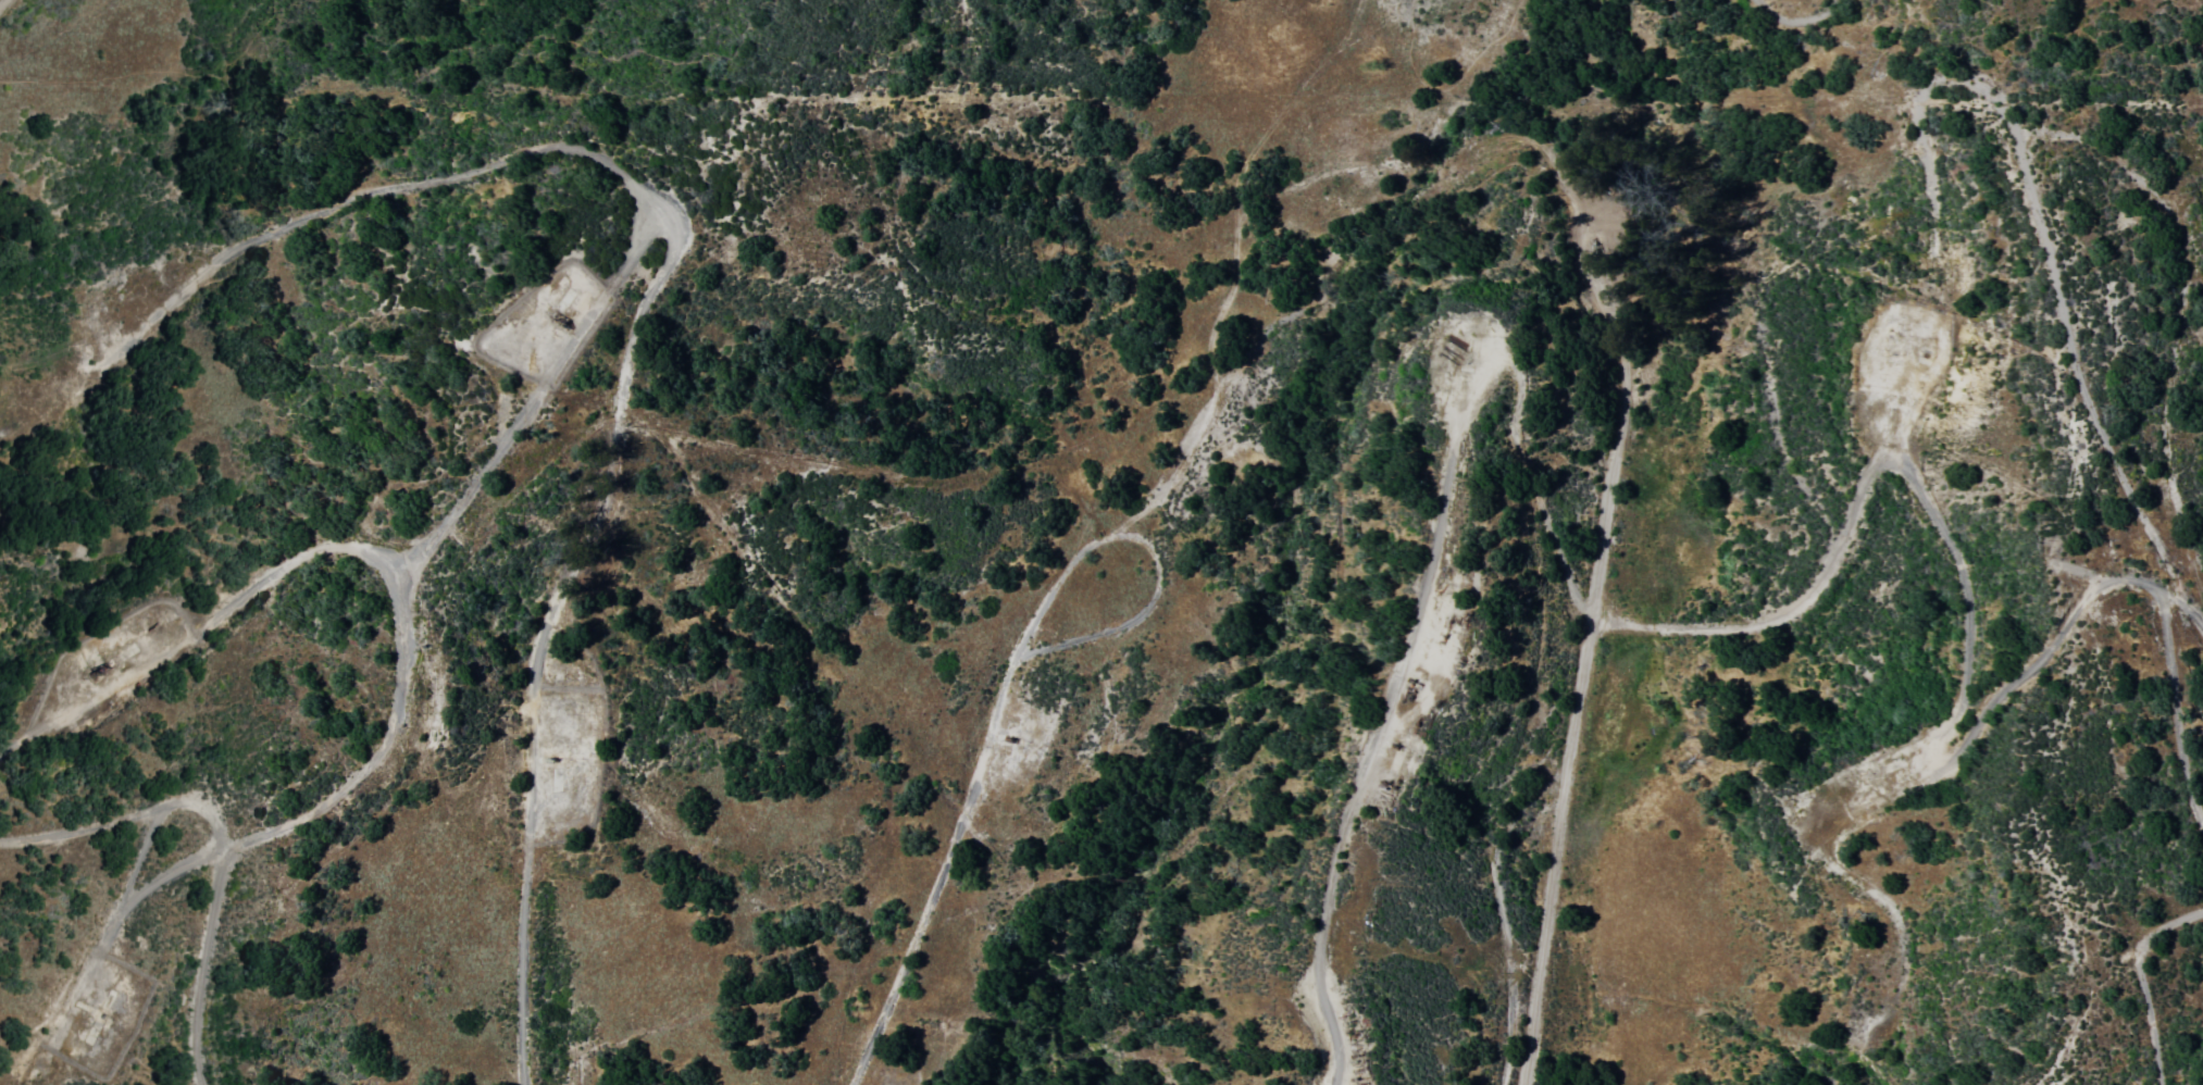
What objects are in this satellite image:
road: (3, 3)
road: (1333, 45)
road: (113, 277)
road: (1496, 354)
road: (549, 375)
road: (624, 396)
road: (1611, 458)
road: (1843, 536)
road: (356, 550)
road: (1967, 602)
road: (2034, 662)
road: (2176, 709)
road: (966, 801)
road: (128, 814)
road: (139, 894)
road: (204, 966)

